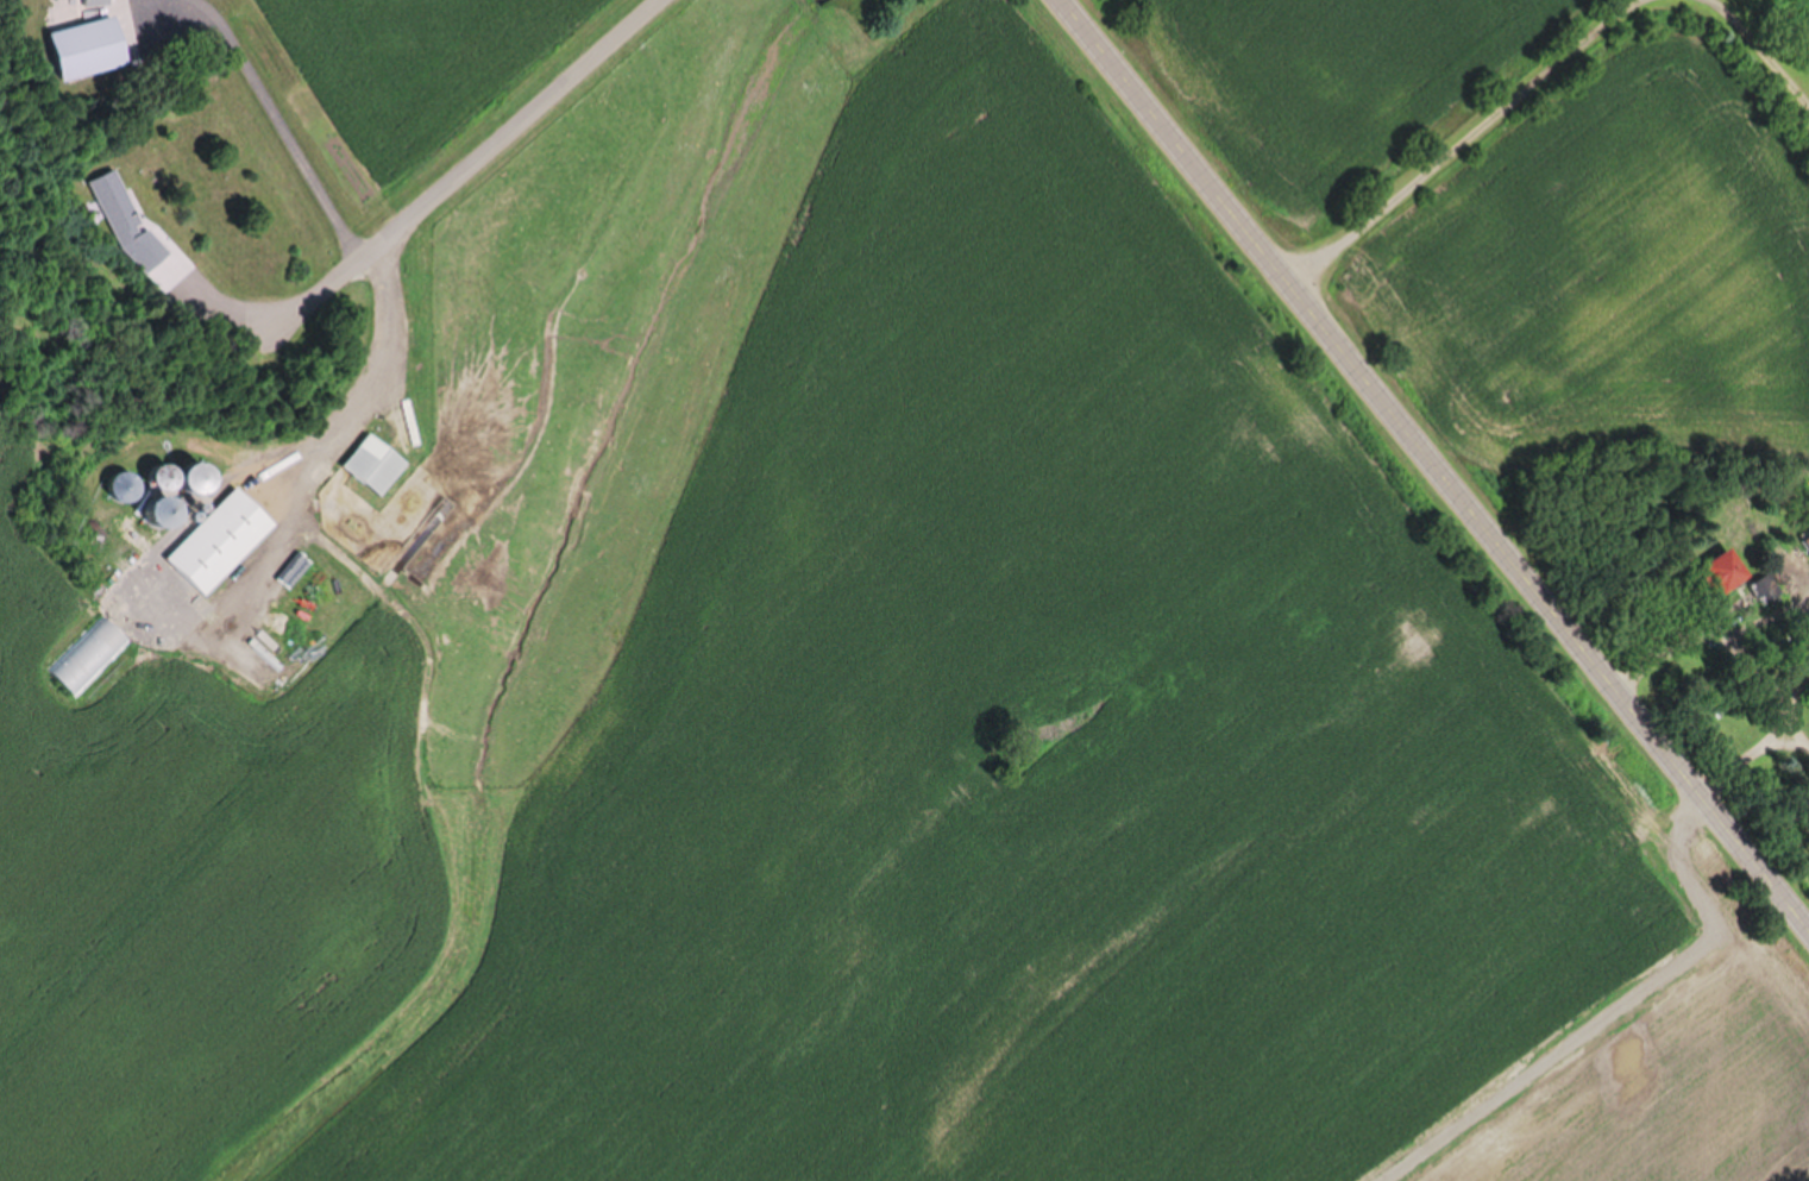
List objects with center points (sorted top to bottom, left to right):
building: (88, 2)
road: (1753, 44)
building: (78, 49)
road: (276, 126)
road: (1468, 133)
road: (482, 152)
building: (115, 201)
building: (159, 268)
road: (362, 390)
building: (366, 465)
road: (1431, 465)
building: (215, 544)
building: (1804, 544)
building: (1716, 572)
building: (84, 659)
building: (1808, 680)

